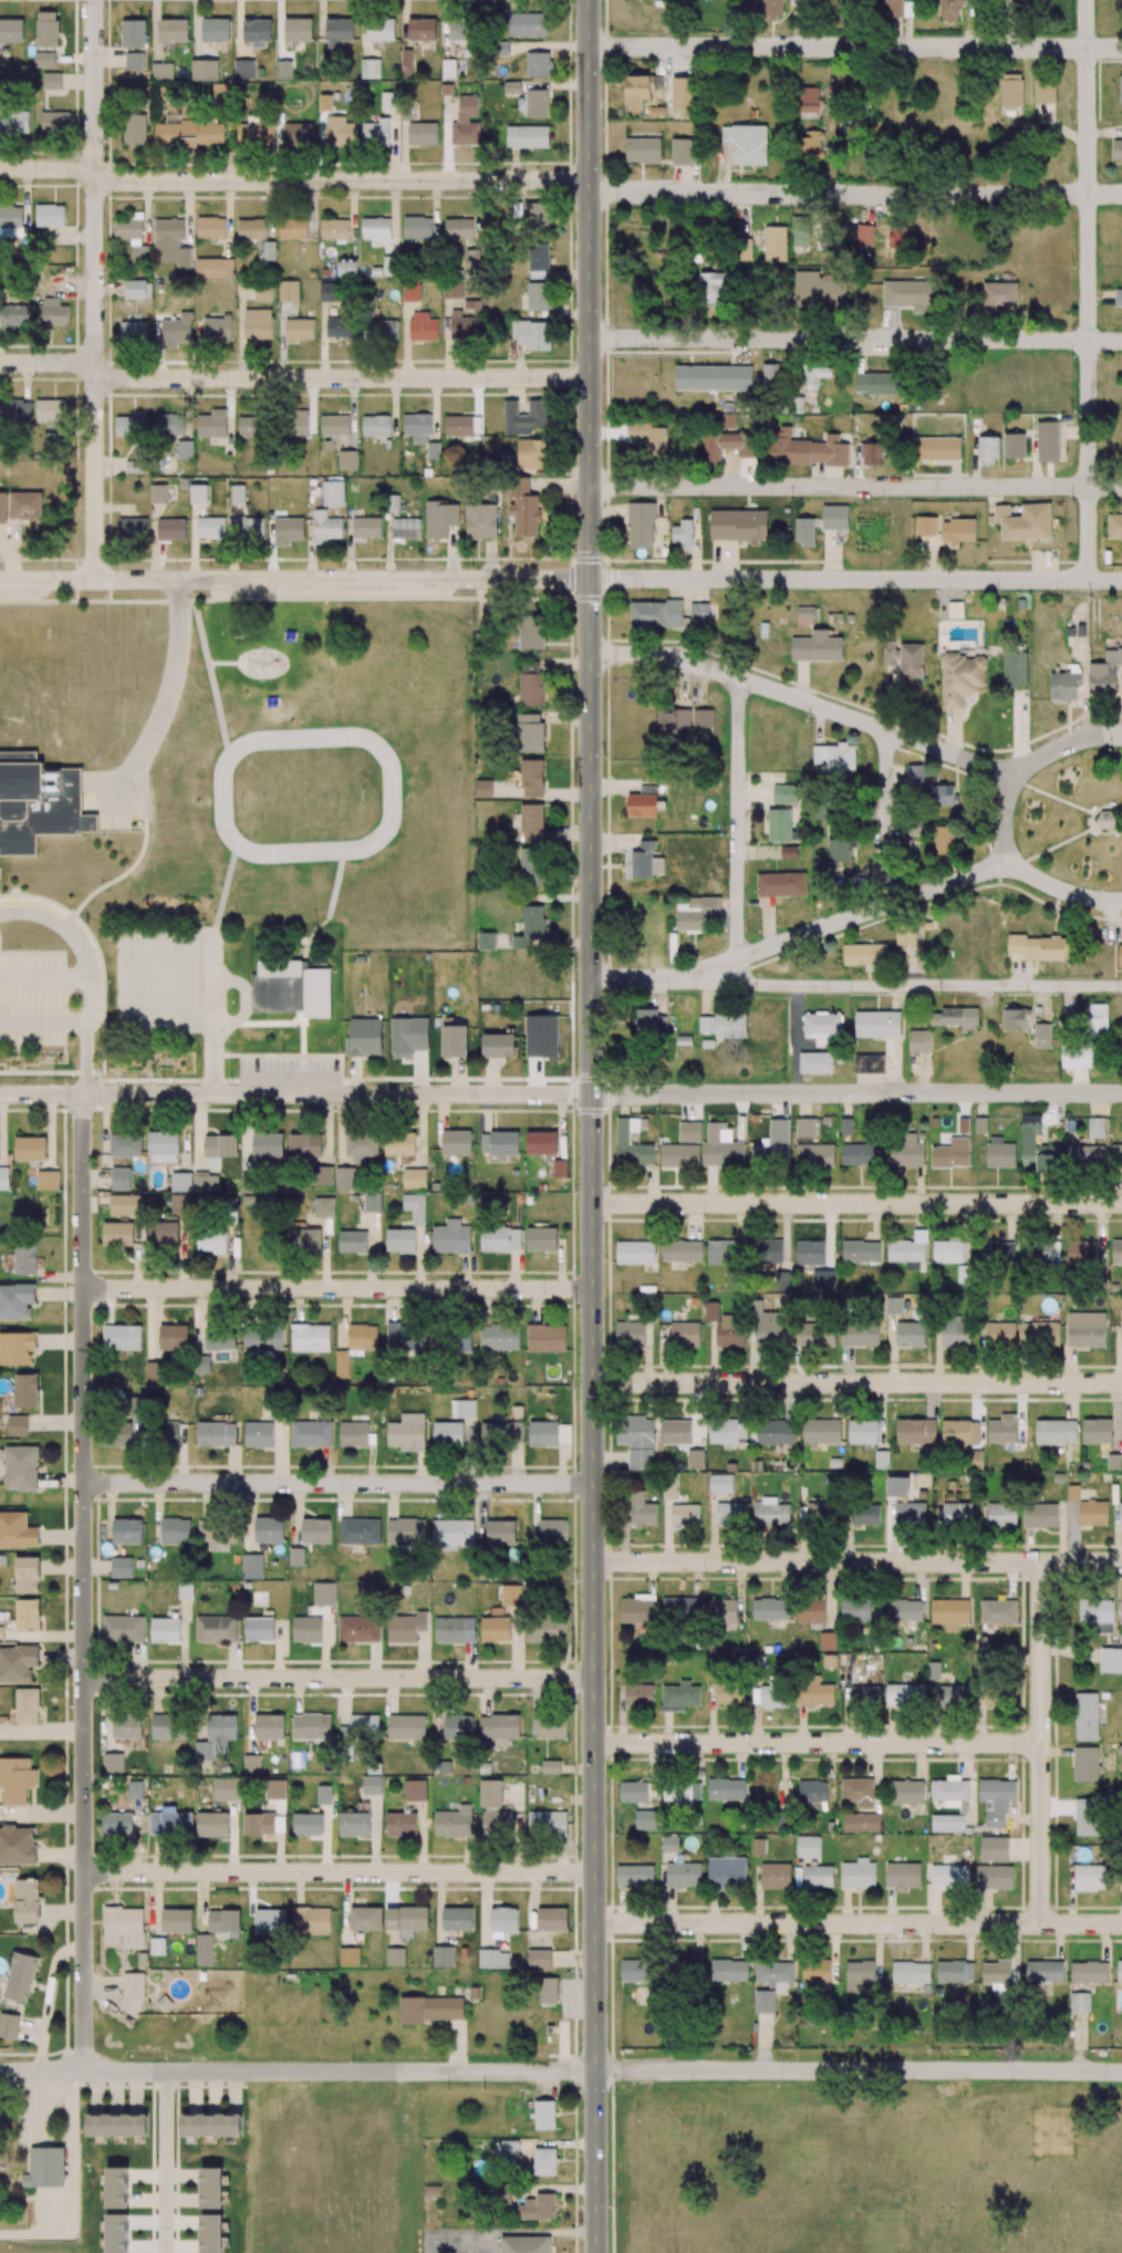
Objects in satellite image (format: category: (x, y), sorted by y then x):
road: (854, 46)
building: (1121, 100)
building: (1118, 149)
building: (682, 154)
road: (562, 179)
building: (775, 243)
building: (741, 250)
road: (94, 289)
road: (1088, 290)
building: (1000, 294)
building: (1119, 298)
road: (855, 339)
road: (48, 363)
road: (342, 377)
building: (713, 377)
building: (1048, 442)
building: (1015, 446)
building: (937, 448)
building: (988, 450)
building: (134, 466)
road: (855, 486)
building: (157, 492)
building: (198, 492)
building: (238, 492)
building: (834, 518)
building: (1025, 521)
building: (926, 526)
building: (1114, 526)
building: (250, 527)
building: (289, 528)
building: (958, 531)
road: (294, 579)
road: (854, 580)
building: (955, 610)
building: (890, 653)
building: (911, 661)
building: (1015, 669)
building: (1105, 673)
building: (962, 677)
building: (1064, 685)
road: (166, 695)
road: (806, 700)
building: (834, 756)
road: (1027, 766)
building: (917, 775)
building: (786, 793)
building: (944, 795)
road: (738, 818)
road: (886, 818)
park: (1077, 819)
building: (779, 824)
building: (942, 839)
building: (841, 850)
building: (789, 852)
building: (781, 884)
road: (908, 896)
building: (905, 936)
building: (1037, 947)
building: (864, 954)
building: (1120, 956)
road: (83, 972)
road: (42, 975)
road: (697, 982)
road: (963, 986)
road: (214, 1016)
building: (956, 1018)
building: (1015, 1018)
building: (1098, 1019)
road: (43, 1021)
building: (877, 1024)
building: (706, 1025)
building: (730, 1026)
building: (822, 1027)
building: (1042, 1035)
building: (920, 1041)
building: (1079, 1056)
building: (815, 1061)
building: (873, 1062)
road: (856, 1093)
road: (295, 1094)
building: (1031, 1120)
road: (590, 1125)
building: (1095, 1128)
building: (689, 1131)
building: (622, 1138)
building: (773, 1144)
building: (811, 1145)
building: (721, 1146)
building: (905, 1152)
building: (860, 1154)
building: (952, 1154)
building: (679, 1155)
building: (1085, 1155)
building: (1000, 1156)
building: (1041, 1156)
building: (1116, 1156)
road: (855, 1203)
building: (952, 1249)
building: (682, 1250)
building: (767, 1250)
building: (908, 1250)
building: (720, 1252)
building: (810, 1252)
building: (861, 1252)
building: (1116, 1252)
building: (635, 1253)
building: (996, 1253)
building: (1040, 1253)
building: (1081, 1253)
building: (782, 1280)
road: (335, 1288)
building: (893, 1306)
building: (711, 1311)
building: (770, 1327)
building: (1085, 1329)
building: (730, 1331)
building: (955, 1331)
building: (630, 1333)
building: (685, 1333)
building: (815, 1333)
building: (910, 1333)
building: (1038, 1333)
building: (1121, 1333)
building: (860, 1335)
building: (1000, 1335)
building: (173, 1336)
building: (221, 1336)
building: (263, 1336)
building: (546, 1338)
road: (856, 1381)
road: (831, 1399)
building: (1002, 1429)
building: (727, 1431)
building: (821, 1431)
building: (915, 1431)
building: (1097, 1431)
building: (678, 1432)
building: (775, 1432)
building: (863, 1432)
building: (1056, 1432)
building: (501, 1433)
building: (543, 1433)
building: (959, 1433)
building: (633, 1440)
building: (695, 1458)
building: (882, 1460)
building: (972, 1460)
road: (335, 1482)
building: (720, 1484)
building: (897, 1486)
building: (668, 1488)
building: (638, 1509)
building: (770, 1512)
building: (729, 1513)
building: (819, 1513)
building: (1092, 1513)
building: (685, 1514)
building: (865, 1514)
building: (910, 1514)
building: (957, 1514)
building: (1001, 1515)
building: (1040, 1515)
building: (1120, 1515)
building: (552, 1530)
building: (500, 1533)
building: (451, 1534)
road: (855, 1562)
road: (82, 1581)
building: (511, 1595)
building: (682, 1608)
building: (771, 1608)
building: (638, 1609)
building: (855, 1610)
building: (904, 1610)
building: (721, 1611)
building: (998, 1611)
building: (1121, 1611)
building: (811, 1612)
building: (949, 1613)
building: (1097, 1615)
building: (406, 1627)
building: (495, 1627)
building: (453, 1630)
building: (546, 1630)
building: (828, 1641)
building: (1111, 1661)
building: (933, 1670)
road: (337, 1678)
building: (814, 1692)
building: (770, 1693)
building: (728, 1694)
building: (904, 1694)
building: (638, 1695)
building: (864, 1695)
building: (679, 1696)
building: (952, 1696)
building: (1087, 1716)
building: (363, 1725)
building: (406, 1726)
building: (458, 1726)
building: (499, 1726)
building: (551, 1727)
road: (817, 1743)
road: (1040, 1743)
building: (1085, 1764)
building: (551, 1766)
building: (372, 1785)
building: (415, 1789)
building: (726, 1789)
building: (812, 1790)
building: (633, 1792)
building: (858, 1792)
building: (906, 1792)
building: (950, 1792)
building: (491, 1793)
building: (682, 1793)
building: (323, 1795)
building: (996, 1800)
building: (1085, 1816)
building: (645, 1819)
building: (454, 1823)
building: (496, 1823)
building: (861, 1823)
building: (947, 1823)
building: (354, 1824)
building: (401, 1824)
building: (547, 1824)
building: (308, 1825)
building: (669, 1845)
building: (808, 1846)
building: (994, 1849)
road: (337, 1871)
building: (726, 1871)
building: (683, 1875)
building: (859, 1875)
building: (635, 1876)
building: (775, 1876)
building: (818, 1876)
building: (902, 1876)
building: (949, 1876)
building: (994, 1877)
building: (1089, 1878)
building: (365, 1918)
building: (407, 1918)
building: (457, 1919)
building: (552, 1919)
building: (270, 1921)
building: (311, 1921)
building: (502, 1921)
road: (856, 1923)
building: (349, 1956)
building: (395, 1956)
building: (444, 1956)
building: (539, 1958)
building: (494, 1959)
building: (729, 1970)
building: (815, 1970)
building: (635, 1971)
building: (955, 1971)
building: (1043, 1971)
building: (1119, 1971)
building: (773, 1972)
building: (996, 1972)
building: (1089, 1972)
building: (911, 1973)
building: (859, 1976)
building: (548, 1990)
building: (765, 2002)
building: (1079, 2002)
building: (429, 2010)
road: (561, 2070)
building: (544, 2115)
building: (211, 2125)
building: (506, 2147)
road: (164, 2161)
building: (544, 2161)
building: (211, 2188)
building: (538, 2207)
building: (117, 2233)
building: (211, 2233)
building: (526, 2244)

